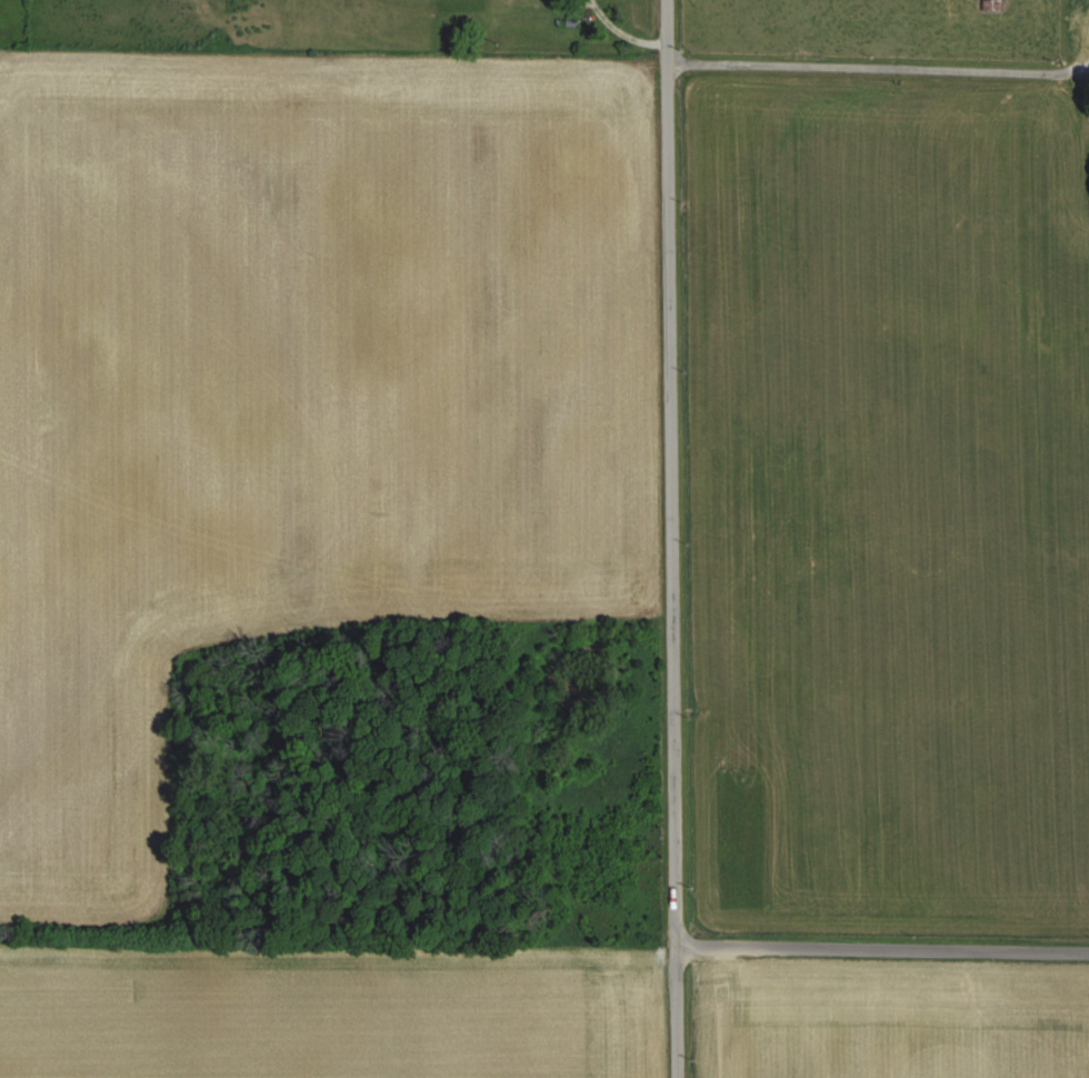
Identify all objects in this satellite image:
building: (990, 4)
road: (890, 64)
road: (673, 538)
road: (882, 950)

